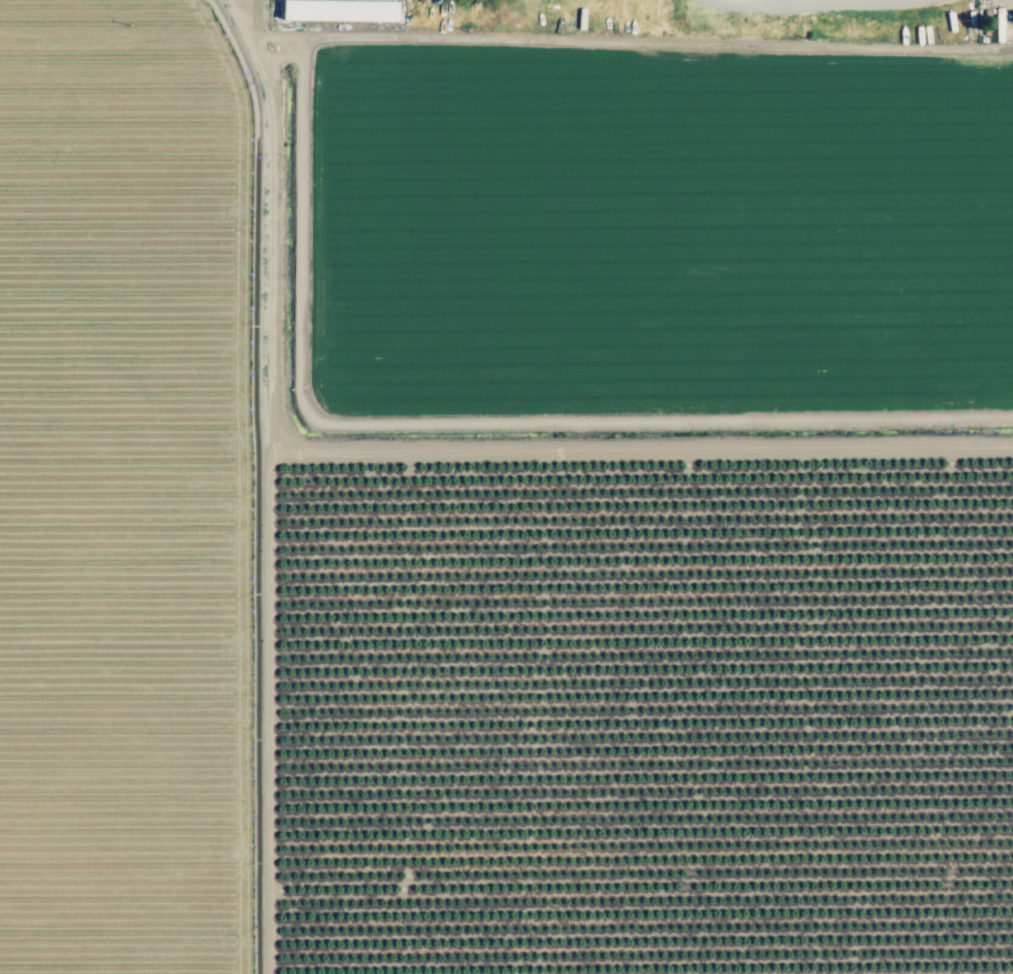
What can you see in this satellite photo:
road: (815, 5)
building: (336, 11)
building: (1011, 19)
crop: (499, 508)

